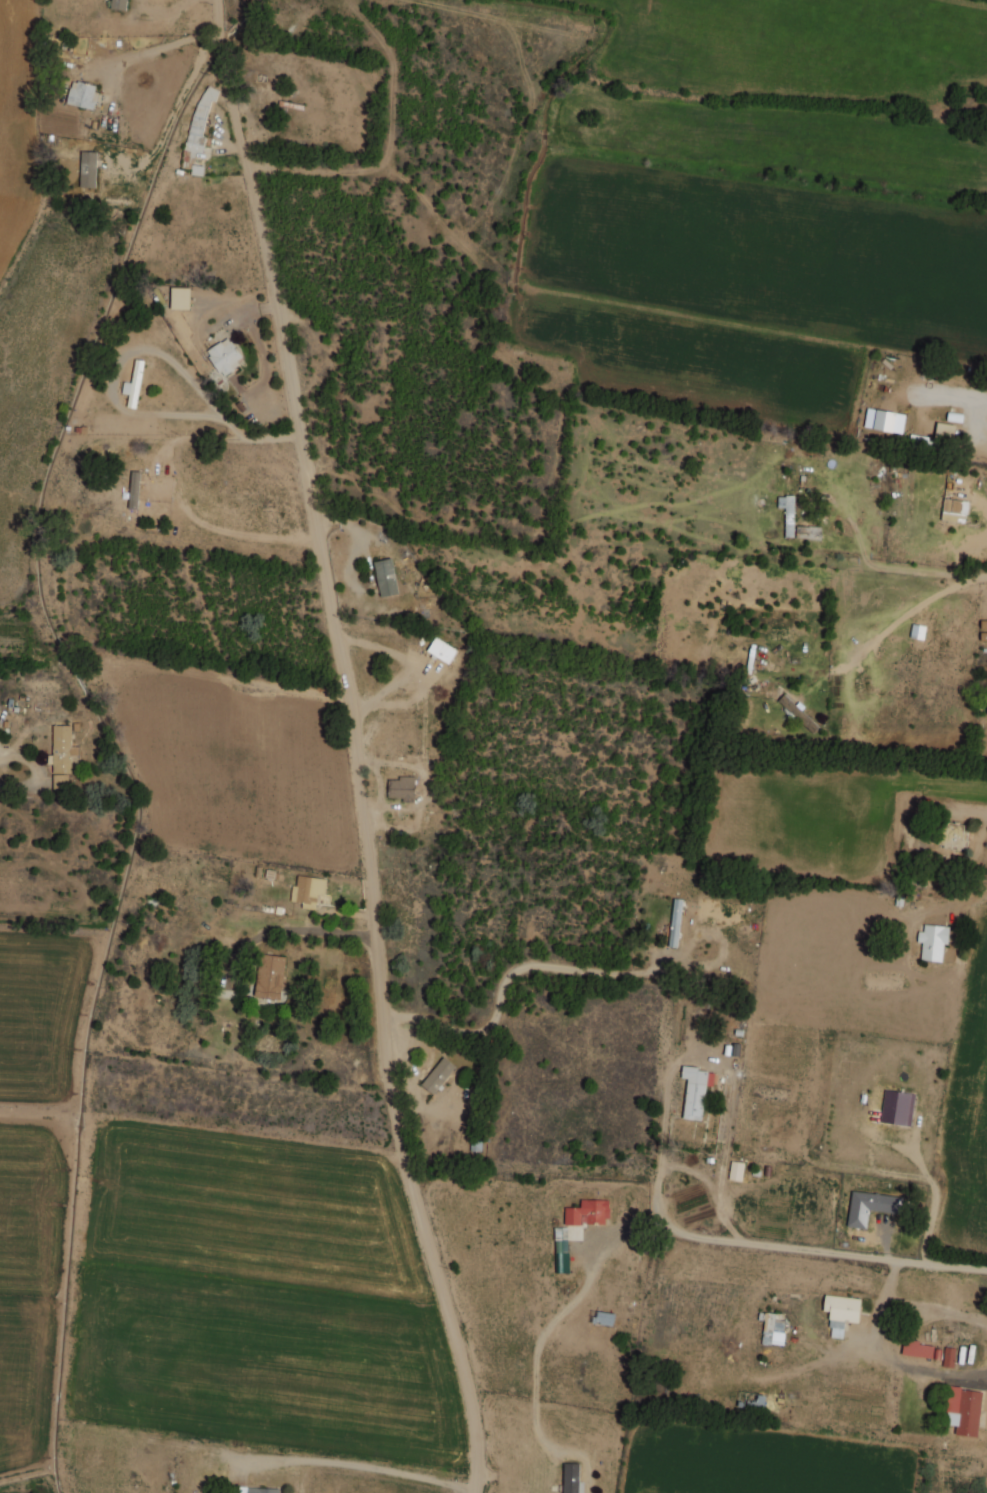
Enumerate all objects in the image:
building: (118, 4)
building: (82, 94)
building: (198, 129)
building: (88, 169)
building: (181, 298)
building: (225, 355)
building: (134, 384)
building: (889, 421)
building: (936, 436)
building: (134, 489)
building: (954, 510)
building: (787, 513)
building: (807, 532)
road: (894, 568)
building: (386, 577)
road: (910, 611)
building: (983, 623)
building: (918, 631)
building: (442, 650)
road: (356, 745)
building: (62, 755)
building: (402, 788)
road: (985, 824)
building: (952, 835)
building: (308, 890)
road: (966, 901)
building: (675, 922)
building: (933, 941)
building: (270, 976)
road: (508, 977)
building: (438, 1075)
building: (695, 1091)
building: (897, 1107)
building: (736, 1170)
building: (868, 1207)
building: (588, 1212)
road: (673, 1231)
building: (561, 1239)
road: (935, 1307)
building: (841, 1312)
building: (603, 1318)
building: (772, 1329)
building: (920, 1349)
road: (889, 1354)
building: (949, 1356)
road: (474, 1393)
building: (964, 1410)
building: (570, 1477)
building: (256, 1490)

